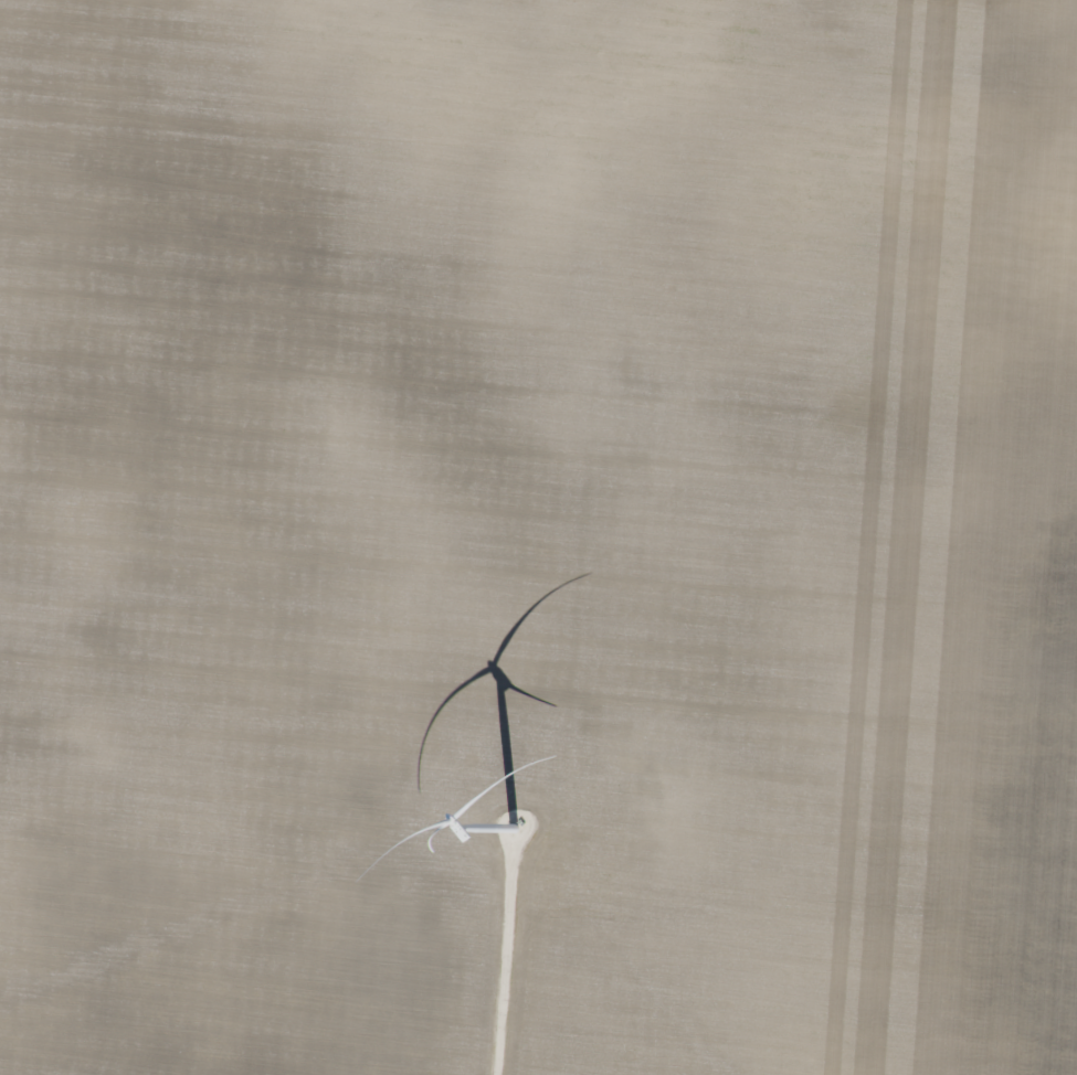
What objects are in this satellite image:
wind turbine: (515, 830)

